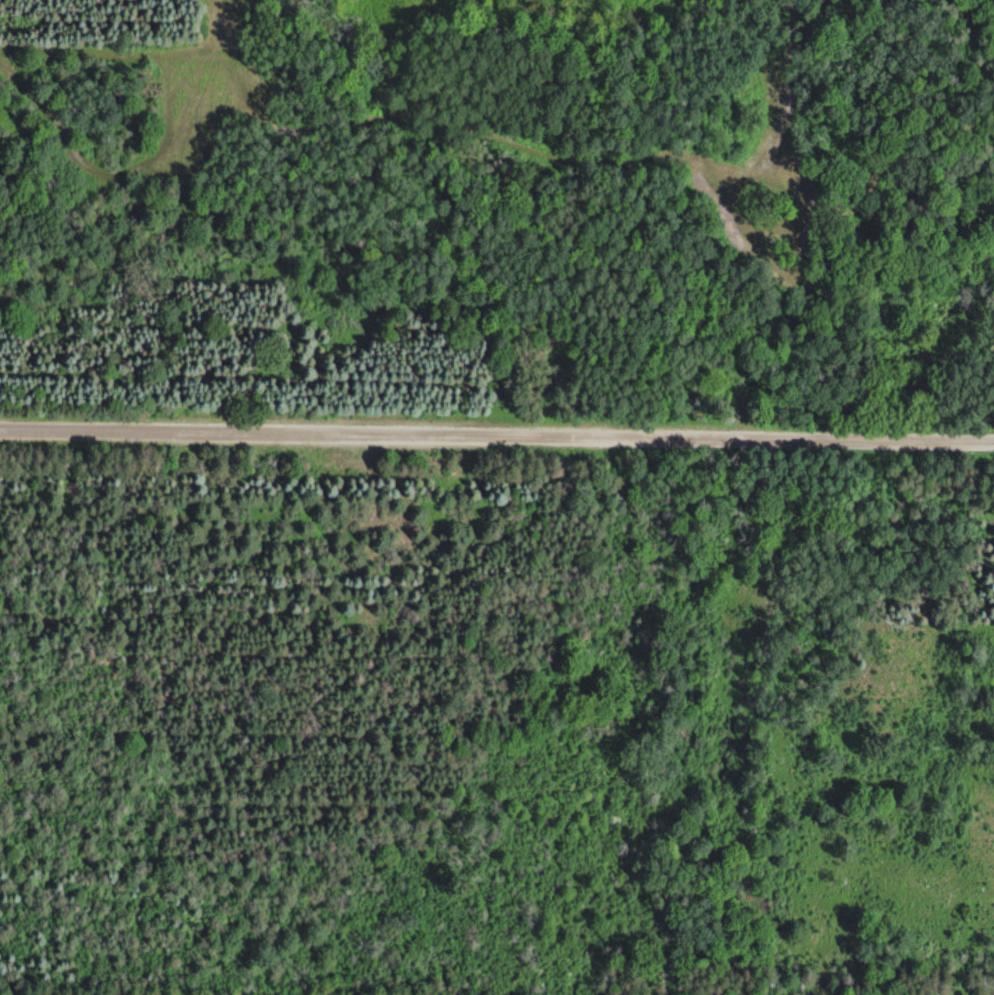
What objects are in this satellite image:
road: (497, 431)

